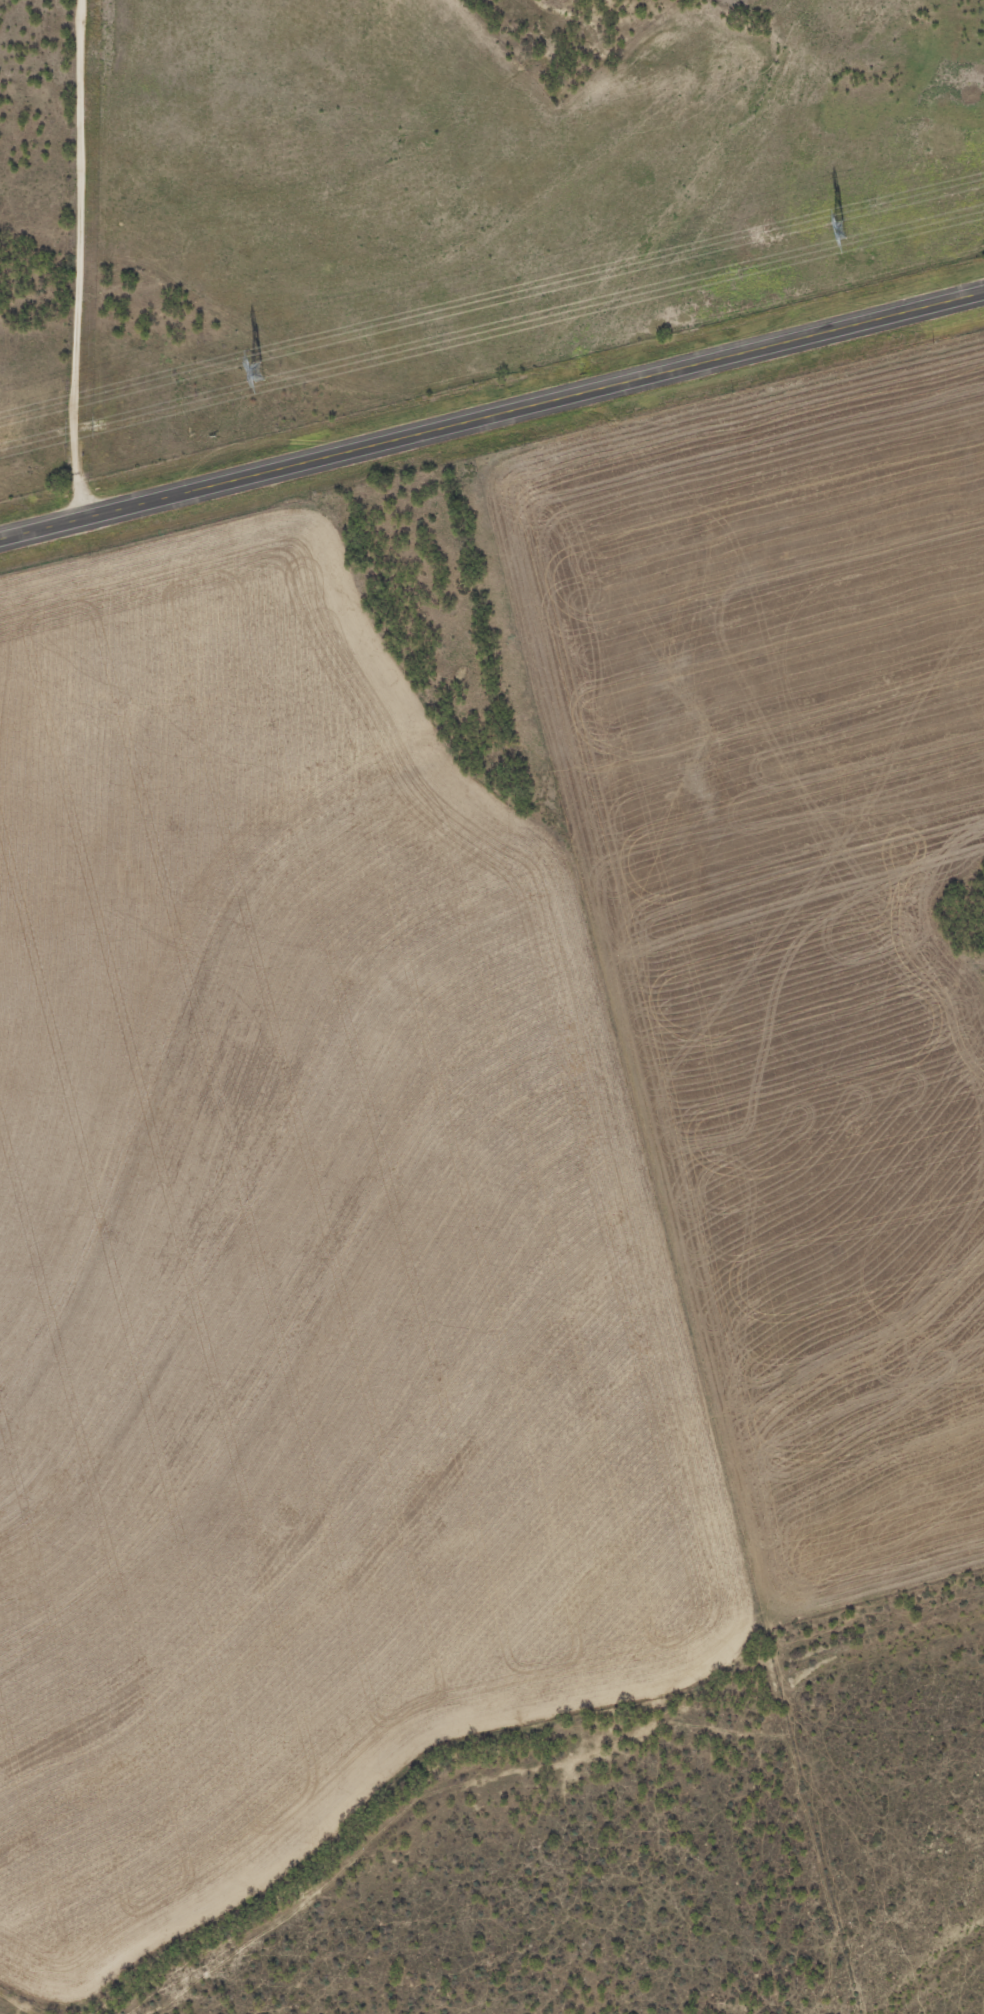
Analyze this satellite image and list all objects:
power tower: (836, 228)
road: (80, 236)
power tower: (255, 371)
road: (491, 419)
road: (81, 496)

